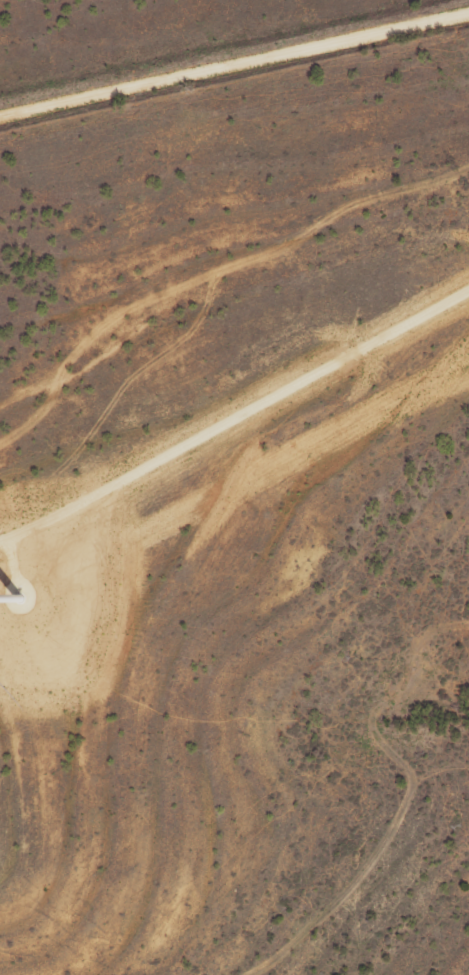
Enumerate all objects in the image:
road: (234, 65)
road: (235, 419)
wind turbine: (20, 599)

